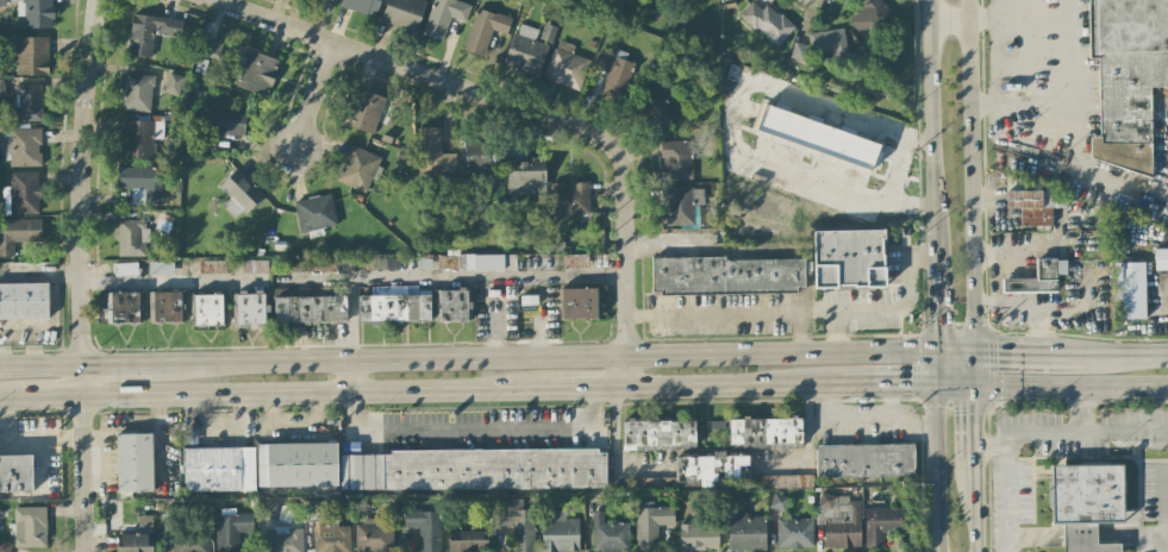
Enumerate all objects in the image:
building: (362, 6)
building: (33, 12)
building: (402, 13)
building: (443, 17)
building: (869, 18)
building: (767, 21)
road: (974, 23)
building: (483, 30)
building: (150, 31)
building: (548, 33)
building: (820, 45)
building: (525, 50)
building: (31, 56)
building: (566, 67)
building: (257, 73)
building: (612, 73)
building: (1126, 79)
building: (173, 83)
building: (1, 87)
building: (137, 92)
road: (312, 96)
building: (27, 102)
road: (1074, 107)
building: (652, 109)
building: (364, 111)
road: (531, 111)
road: (925, 125)
building: (218, 126)
building: (817, 137)
building: (139, 138)
building: (21, 146)
building: (432, 152)
building: (476, 156)
building: (675, 159)
building: (357, 168)
building: (525, 175)
road: (967, 175)
building: (140, 183)
building: (23, 192)
building: (237, 194)
building: (569, 199)
building: (1051, 200)
building: (679, 205)
building: (1029, 208)
building: (314, 213)
building: (18, 233)
building: (131, 238)
road: (664, 244)
building: (848, 258)
building: (1161, 258)
building: (449, 262)
building: (488, 262)
road: (997, 262)
building: (386, 263)
building: (310, 265)
building: (211, 266)
building: (254, 266)
building: (160, 268)
building: (124, 269)
road: (75, 275)
building: (727, 275)
building: (1037, 277)
road: (348, 280)
building: (1129, 290)
building: (23, 301)
road: (927, 301)
building: (577, 303)
building: (394, 305)
building: (452, 306)
building: (124, 307)
building: (165, 307)
building: (250, 308)
building: (207, 309)
building: (308, 309)
road: (885, 309)
road: (1018, 309)
road: (732, 310)
road: (818, 310)
traffic signals: (929, 351)
traffic signals: (972, 351)
road: (1014, 351)
road: (1113, 353)
road: (561, 358)
road: (929, 366)
road: (972, 366)
road: (112, 368)
road: (37, 369)
road: (349, 378)
traffic signals: (930, 382)
road: (888, 383)
traffic signals: (972, 383)
road: (736, 385)
road: (1048, 387)
road: (591, 389)
road: (316, 394)
road: (48, 400)
road: (10, 401)
road: (862, 418)
road: (217, 425)
road: (911, 425)
road: (972, 425)
road: (474, 426)
road: (114, 427)
road: (1124, 429)
building: (764, 432)
road: (1007, 433)
road: (157, 434)
building: (657, 434)
road: (989, 448)
road: (614, 450)
building: (864, 460)
building: (133, 462)
building: (295, 465)
road: (931, 466)
building: (218, 469)
building: (473, 470)
building: (15, 473)
flagpole: (1042, 495)
building: (777, 502)
building: (1086, 503)
road: (972, 509)
flagpole: (1042, 510)
building: (838, 520)
building: (518, 525)
building: (650, 525)
building: (881, 525)
building: (29, 526)
building: (230, 528)
building: (425, 528)
building: (279, 531)
building: (744, 531)
building: (558, 532)
building: (793, 533)
building: (608, 534)
road: (1119, 534)
road: (1166, 534)
road: (1049, 535)
building: (373, 537)
building: (698, 537)
building: (139, 538)
building: (467, 540)
building: (192, 541)
road: (1164, 542)
building: (5, 546)

